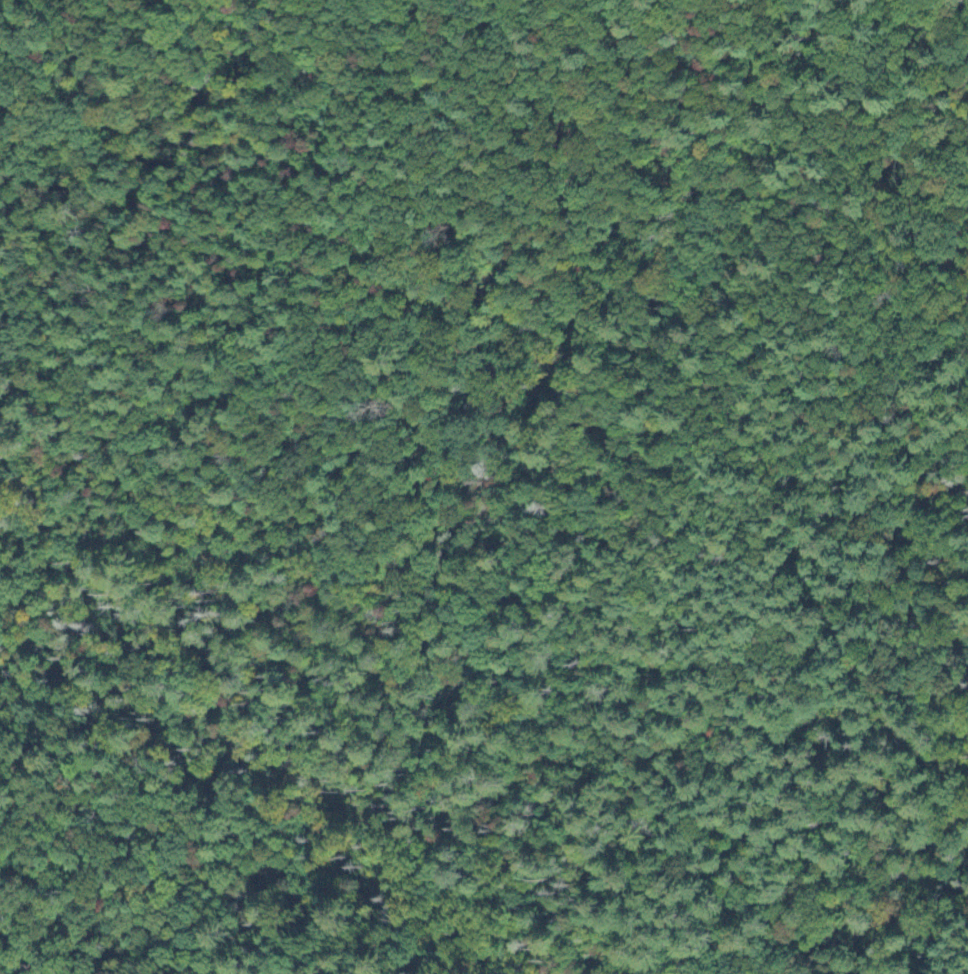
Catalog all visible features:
road: (285, 676)
road: (675, 958)

